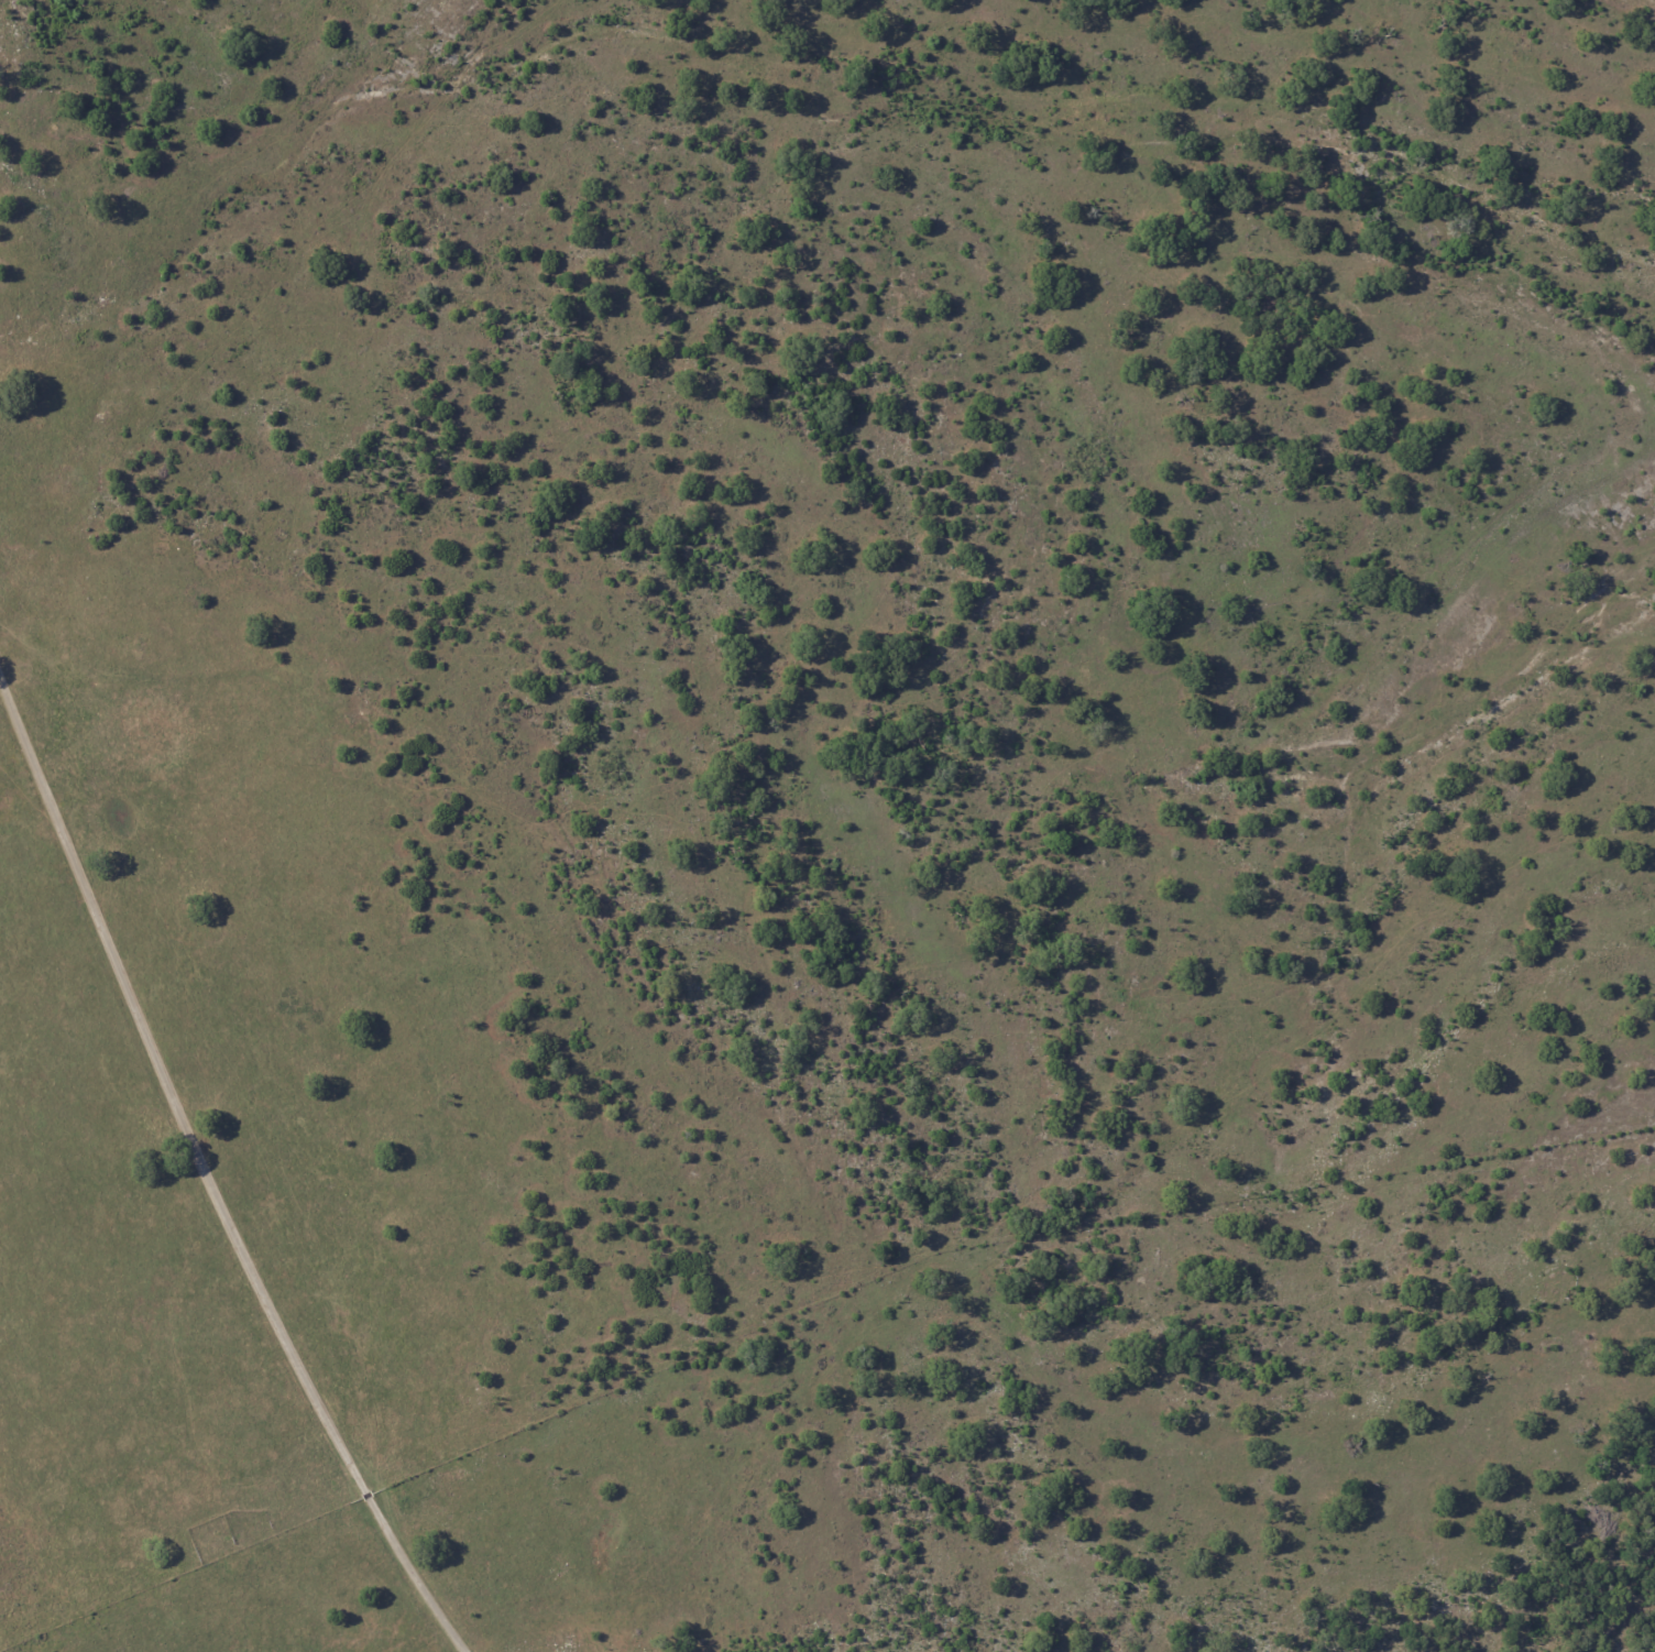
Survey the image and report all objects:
road: (222, 1183)

